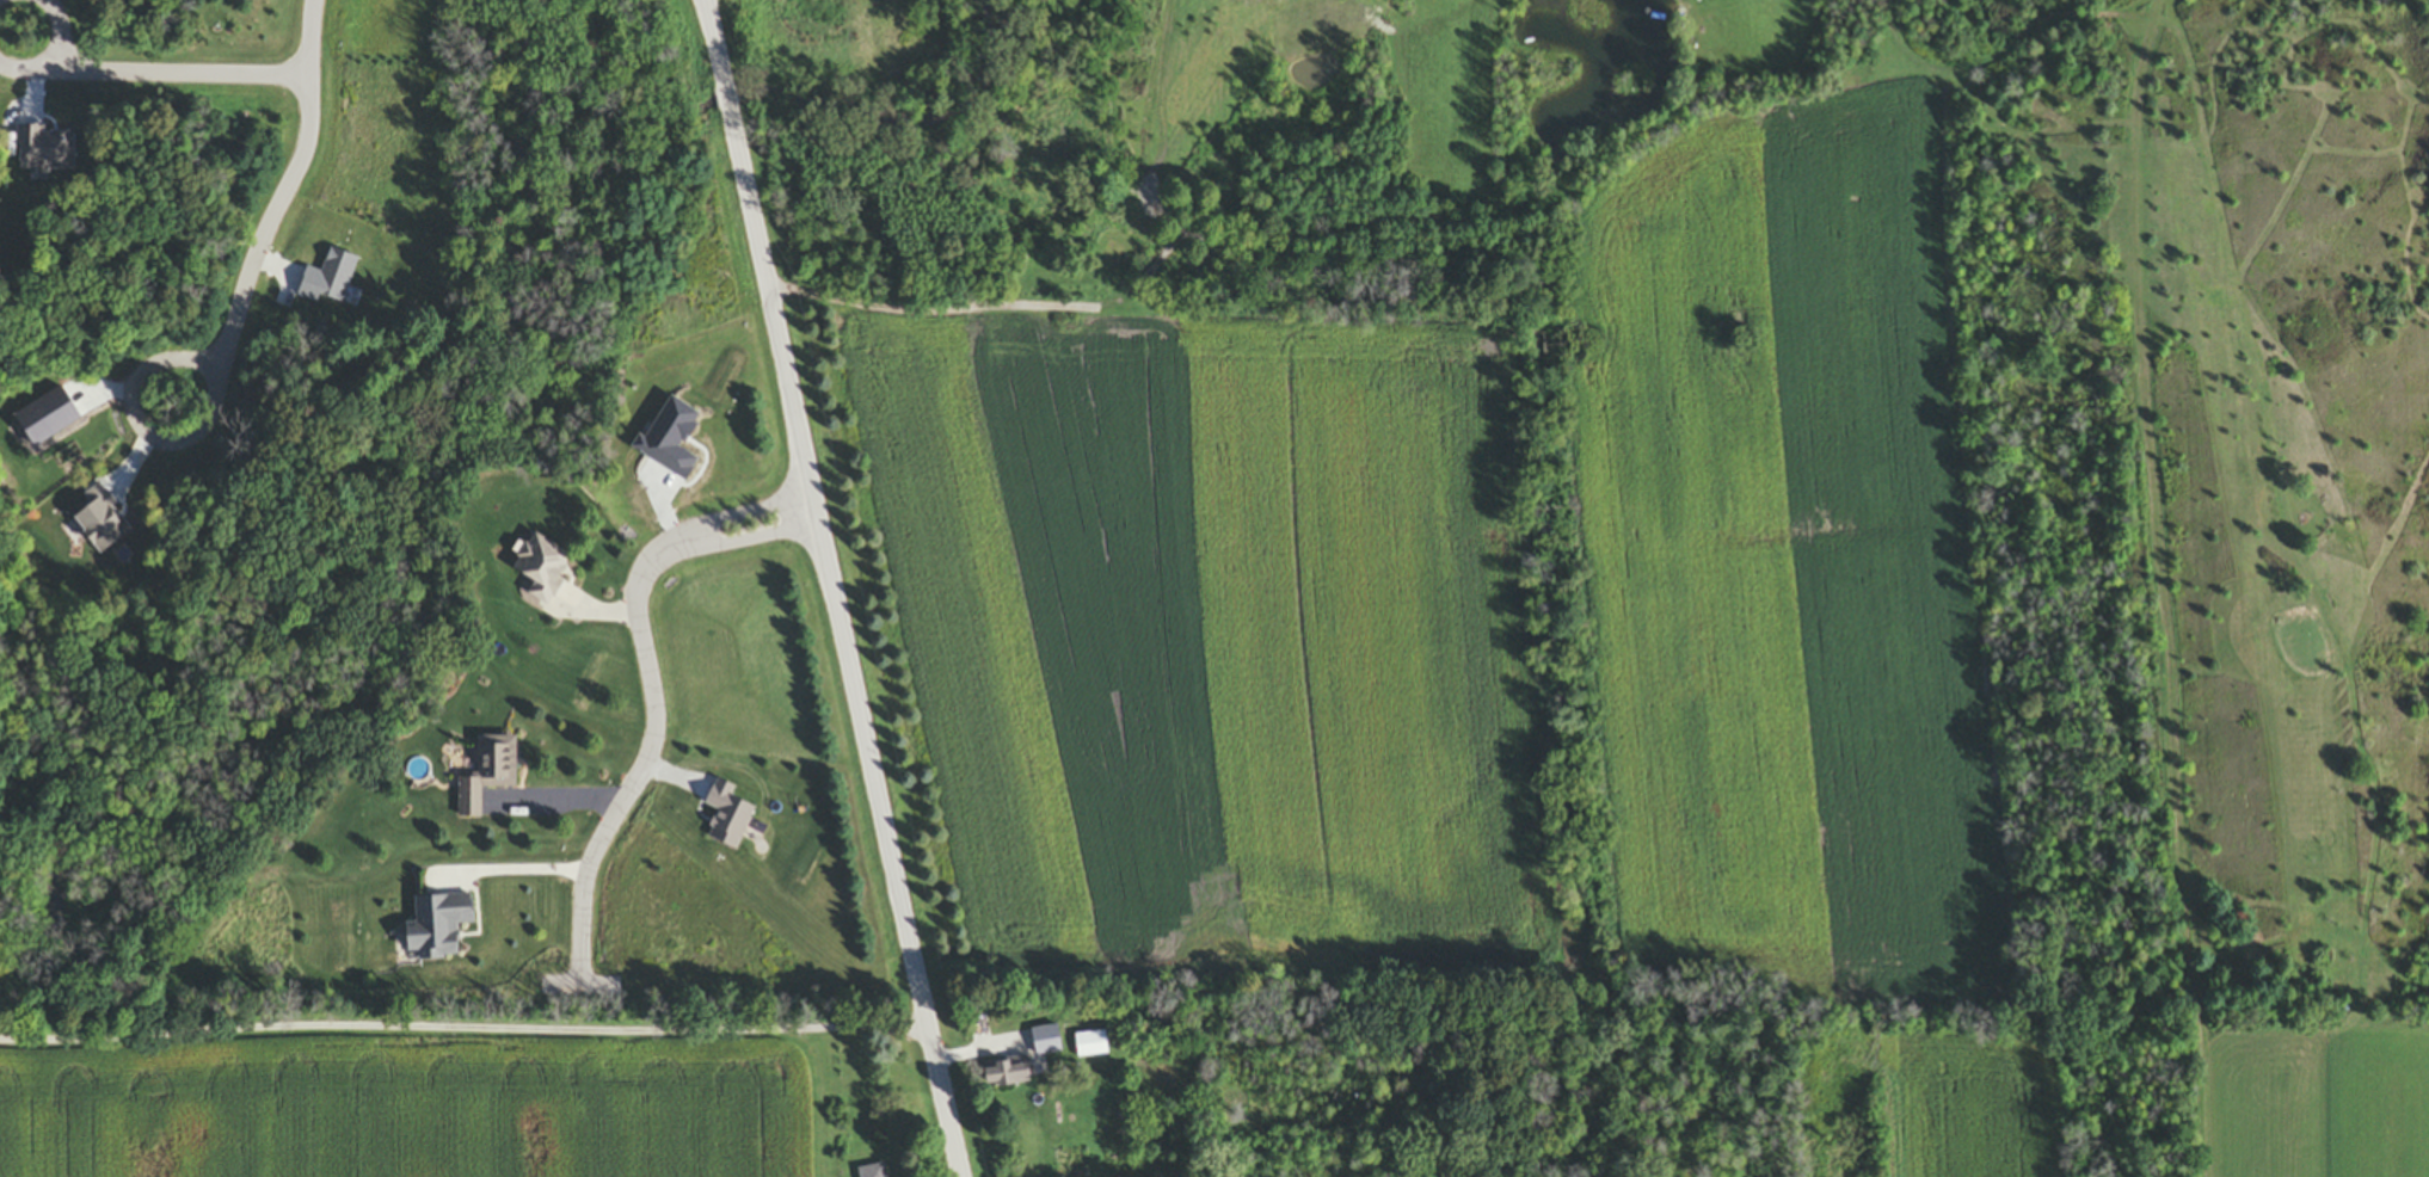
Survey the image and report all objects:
road: (156, 80)
road: (277, 217)
building: (541, 571)
road: (829, 588)
road: (653, 689)
building: (486, 777)
road: (556, 802)
road: (521, 881)
building: (435, 929)
road: (465, 1028)
building: (1089, 1046)
building: (1040, 1053)
building: (1003, 1074)
building: (871, 1172)

